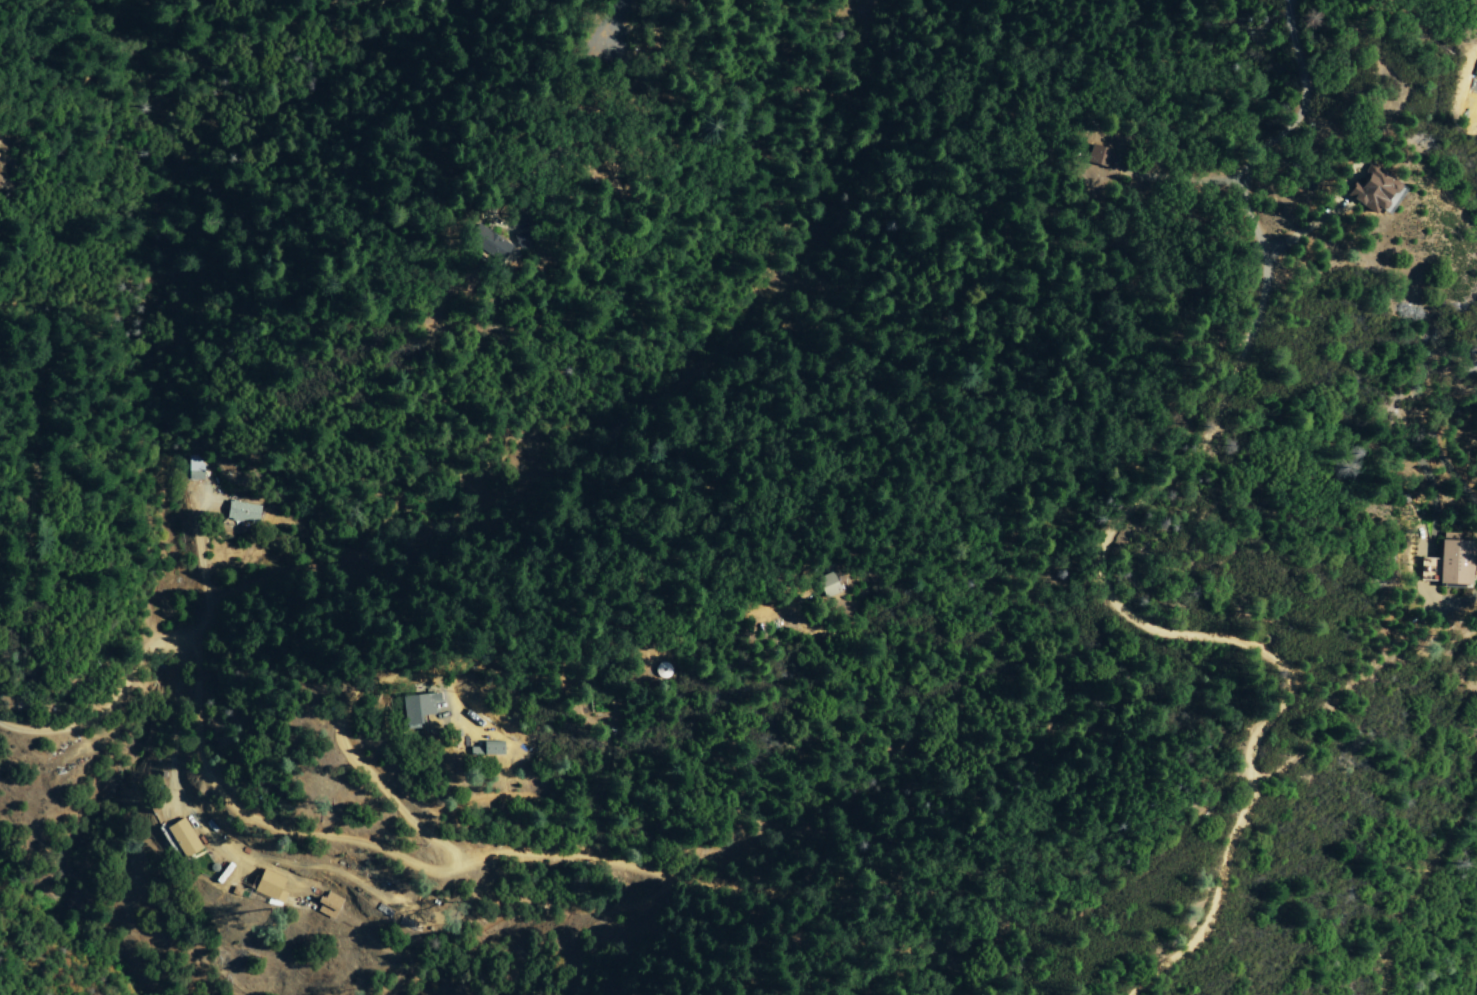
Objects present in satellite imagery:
road: (610, 28)
building: (1098, 155)
building: (1370, 189)
building: (483, 241)
road: (1197, 456)
building: (198, 469)
building: (242, 512)
building: (1452, 561)
building: (1427, 571)
building: (826, 585)
road: (103, 693)
building: (417, 706)
road: (1319, 710)
building: (182, 838)
building: (268, 886)
road: (1425, 886)
road: (360, 901)
road: (810, 947)

